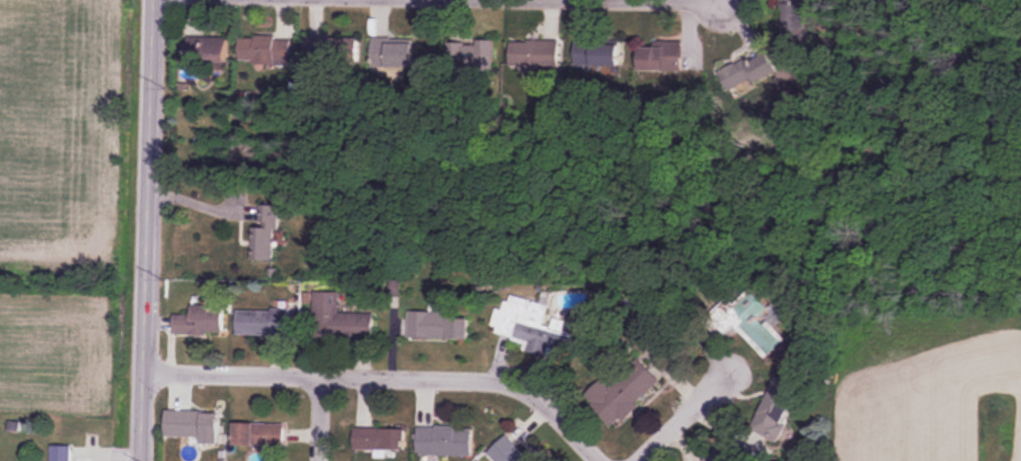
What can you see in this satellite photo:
road: (645, 1)
building: (332, 47)
building: (206, 49)
building: (261, 50)
building: (393, 52)
building: (473, 54)
building: (596, 54)
building: (658, 55)
building: (533, 56)
building: (764, 68)
road: (199, 203)
road: (145, 230)
building: (269, 239)
building: (199, 320)
building: (340, 321)
building: (262, 322)
building: (754, 322)
building: (430, 323)
building: (531, 328)
road: (388, 375)
building: (623, 391)
building: (774, 411)
road: (321, 417)
road: (678, 420)
building: (193, 425)
building: (258, 434)
building: (379, 438)
building: (443, 441)
building: (506, 451)
building: (62, 453)

